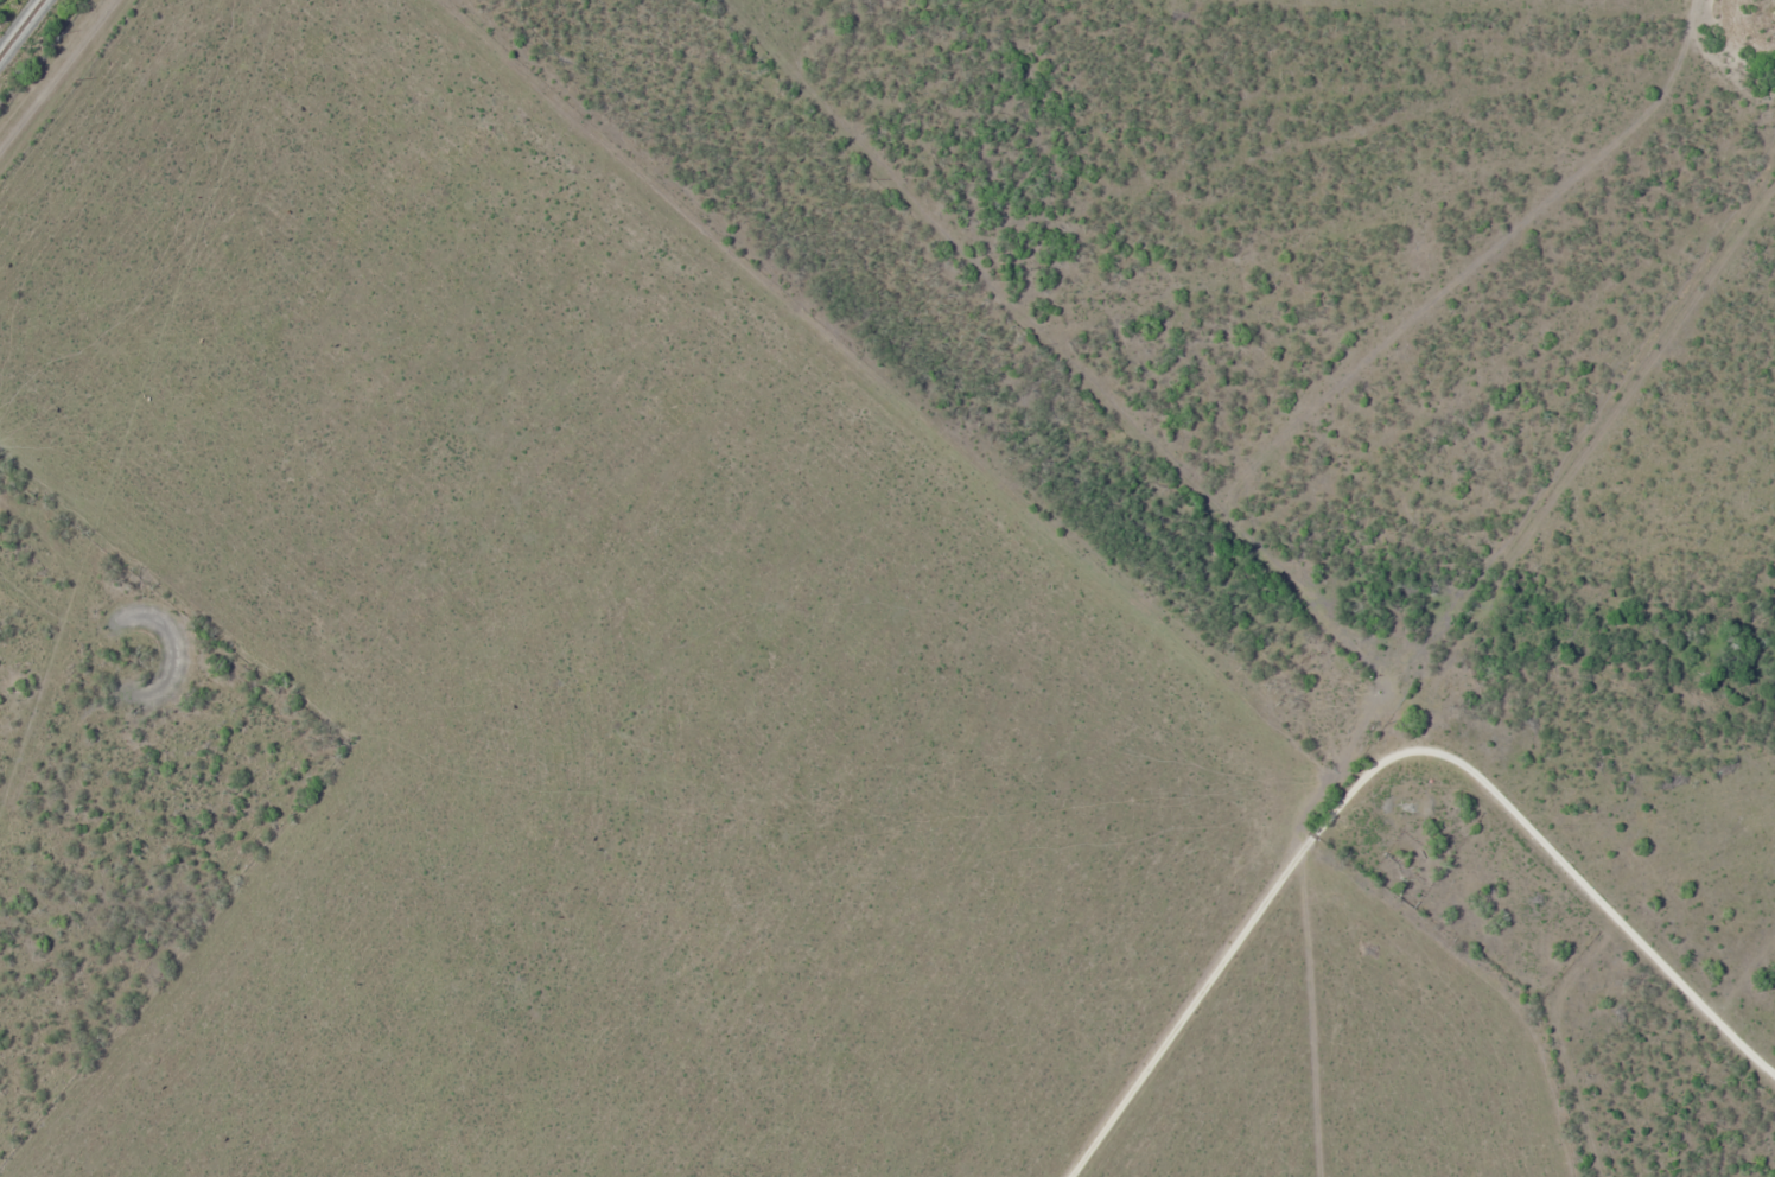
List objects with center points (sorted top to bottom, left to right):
railway: (23, 30)
road: (66, 88)

